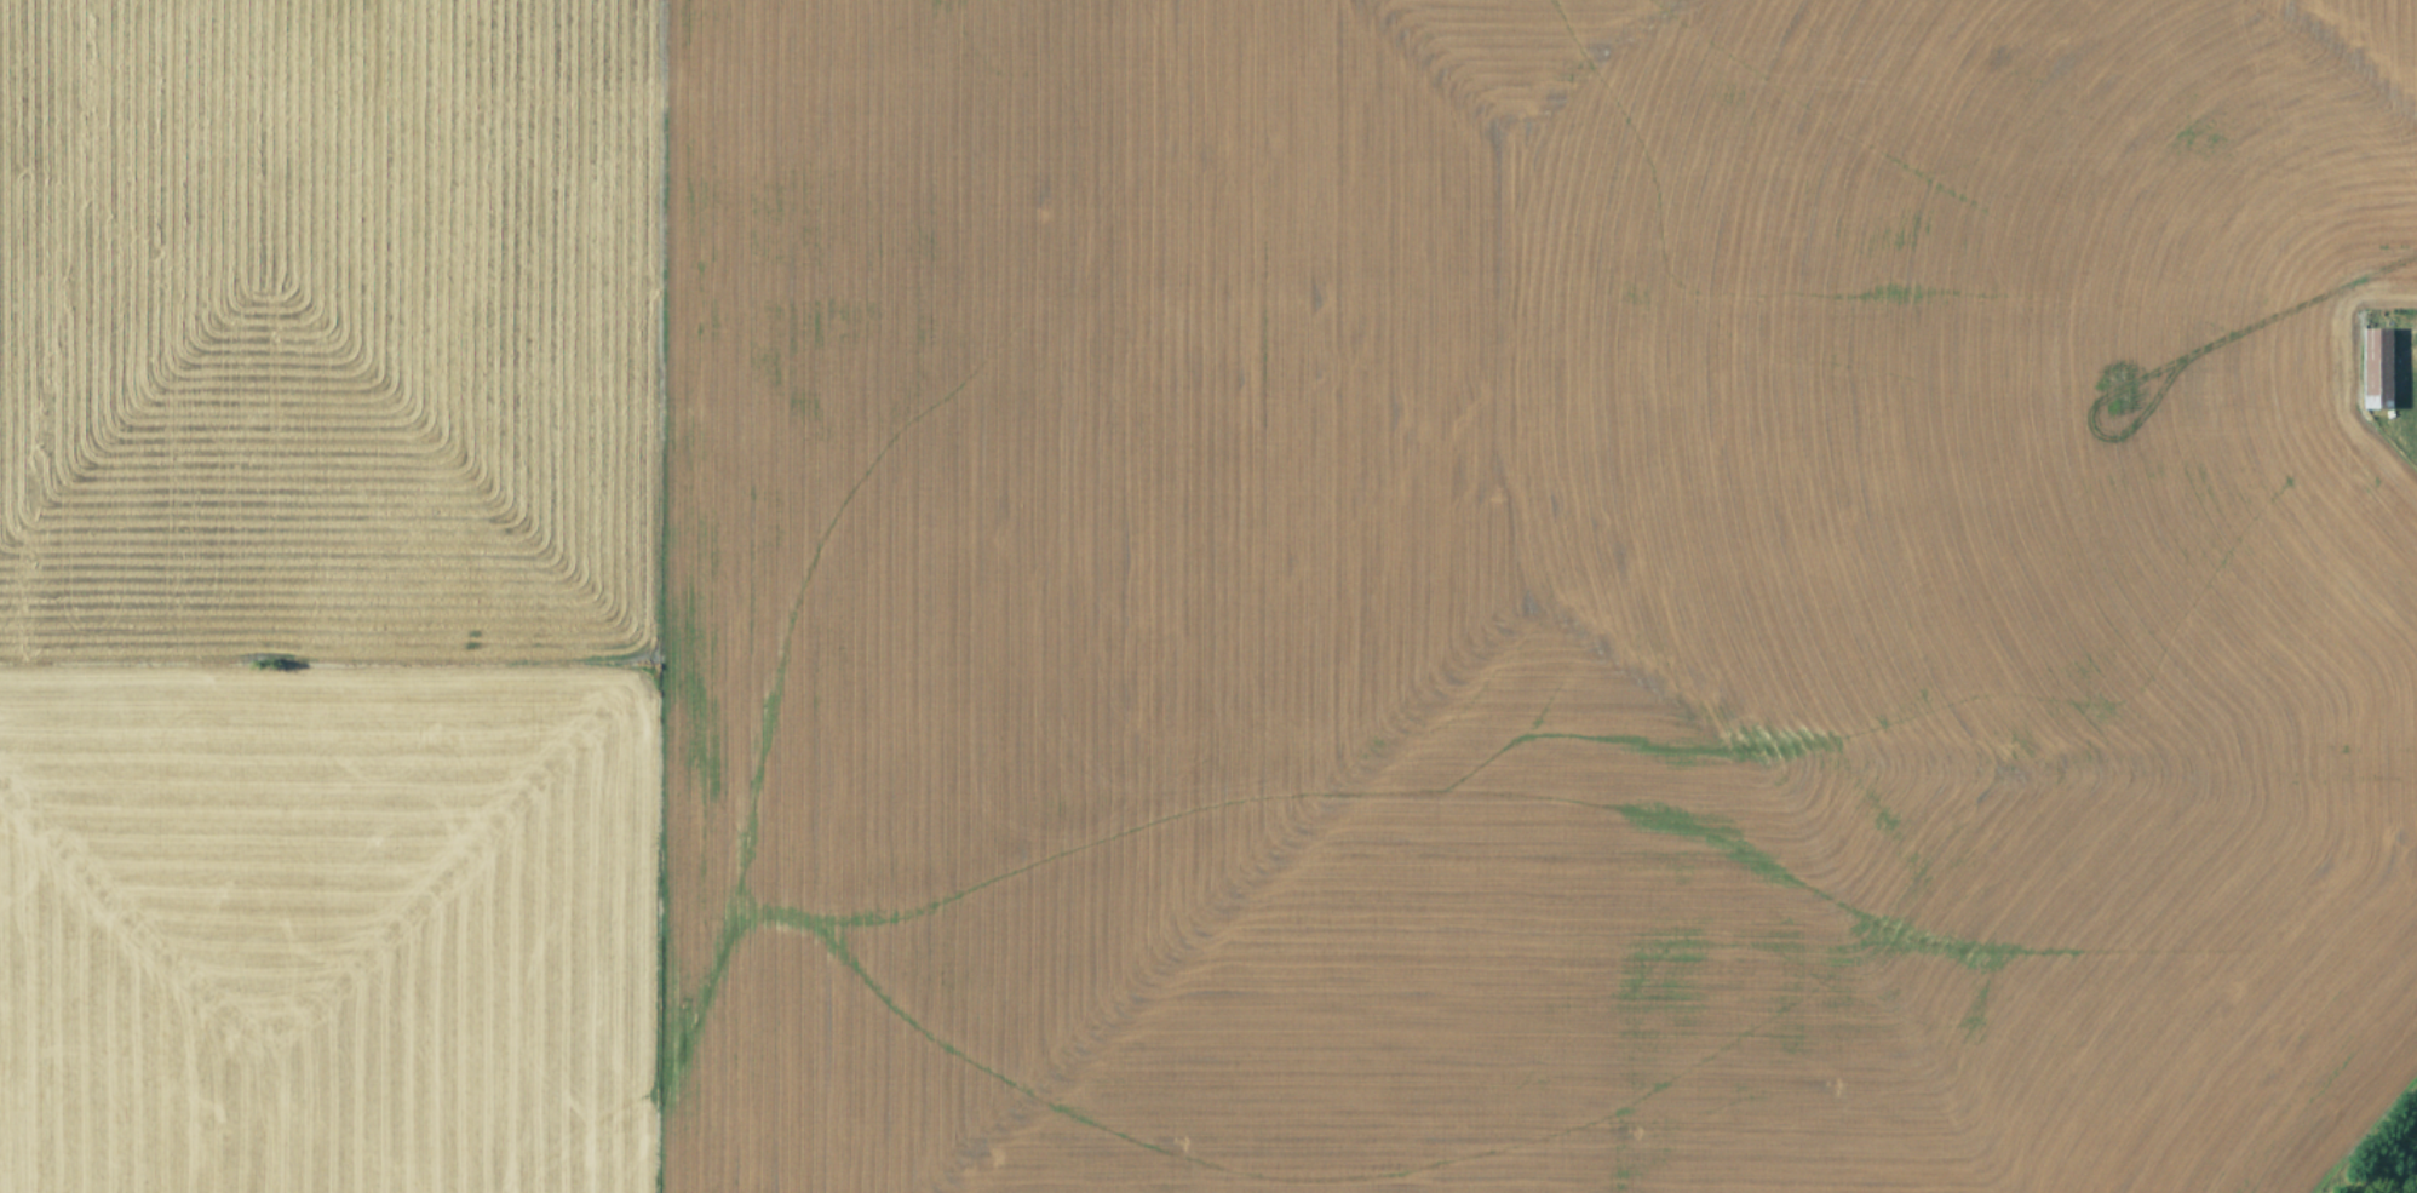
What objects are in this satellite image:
crop: (1208, 596)

